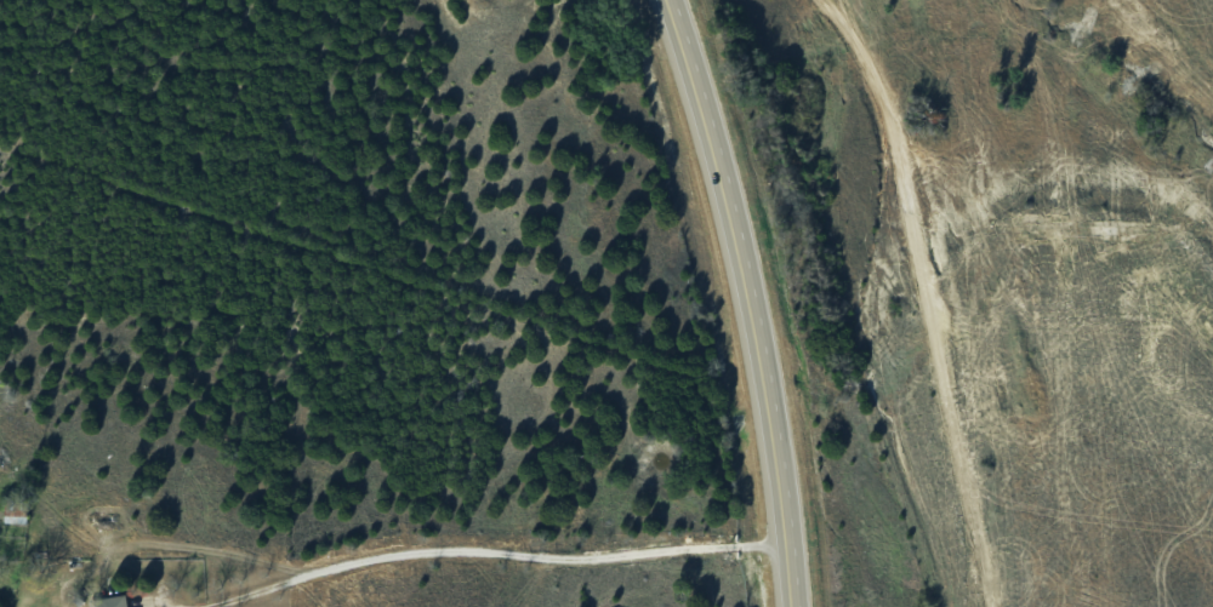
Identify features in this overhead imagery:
road: (921, 296)
road: (745, 298)
building: (112, 601)

